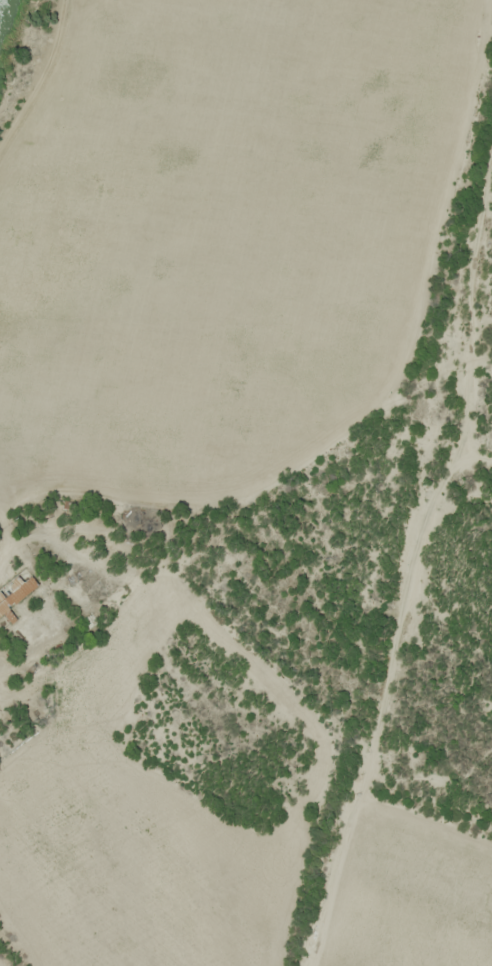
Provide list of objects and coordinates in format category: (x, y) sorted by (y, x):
road: (480, 460)
road: (419, 559)

